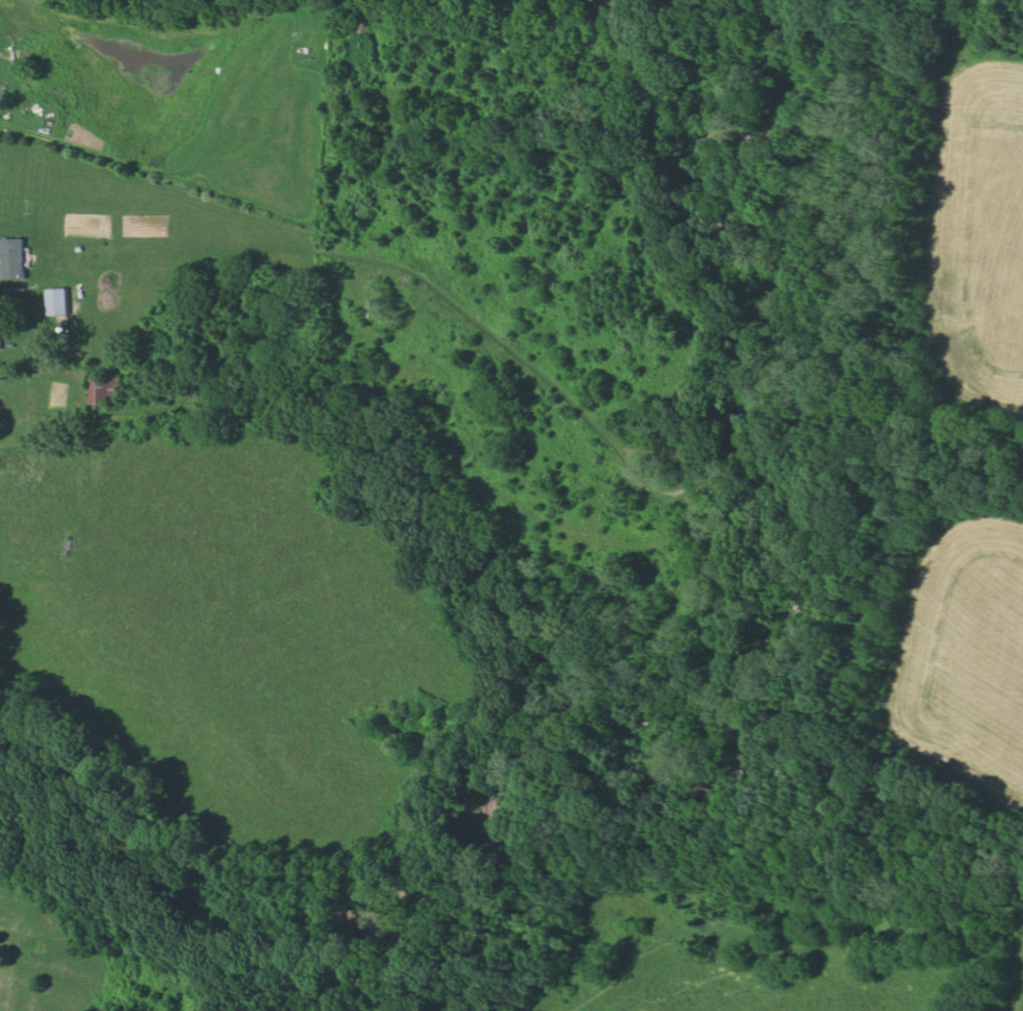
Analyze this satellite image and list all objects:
crop: (182, 98)
crop: (144, 216)
crop: (978, 231)
building: (13, 258)
road: (4, 291)
building: (56, 301)
building: (104, 389)
crop: (233, 626)
crop: (962, 652)
crop: (1013, 983)

